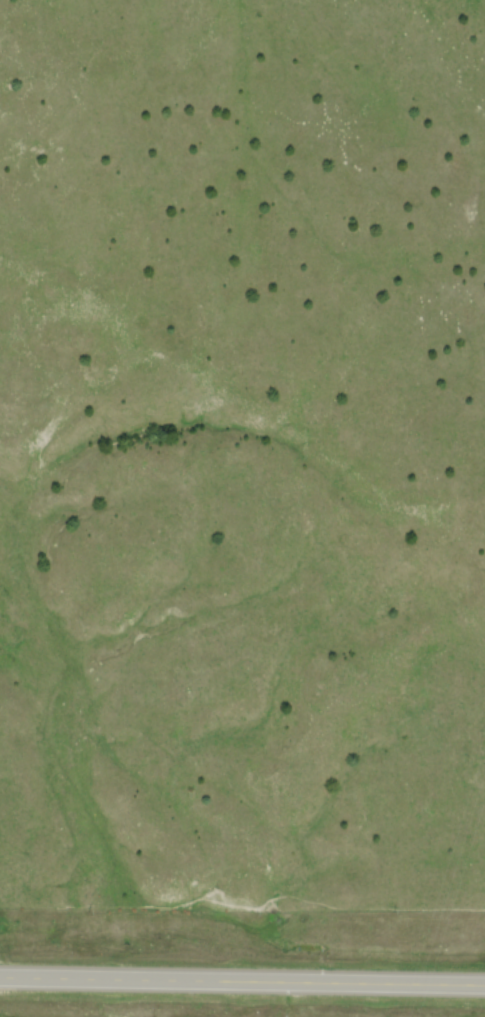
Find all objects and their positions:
road: (242, 981)

